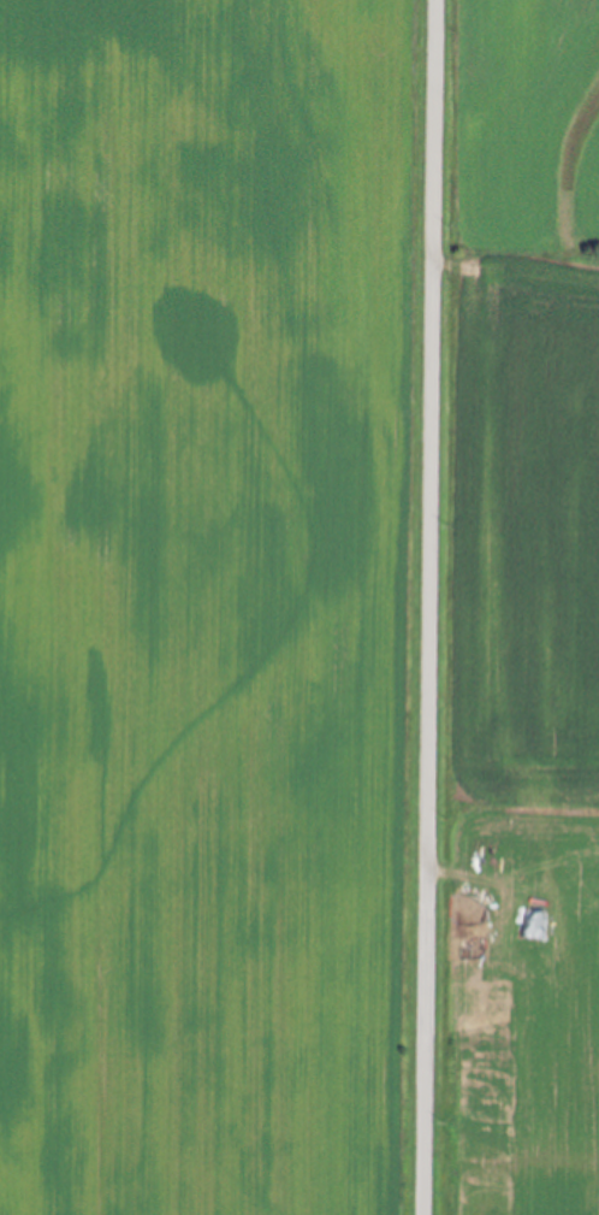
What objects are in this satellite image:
road: (426, 607)

